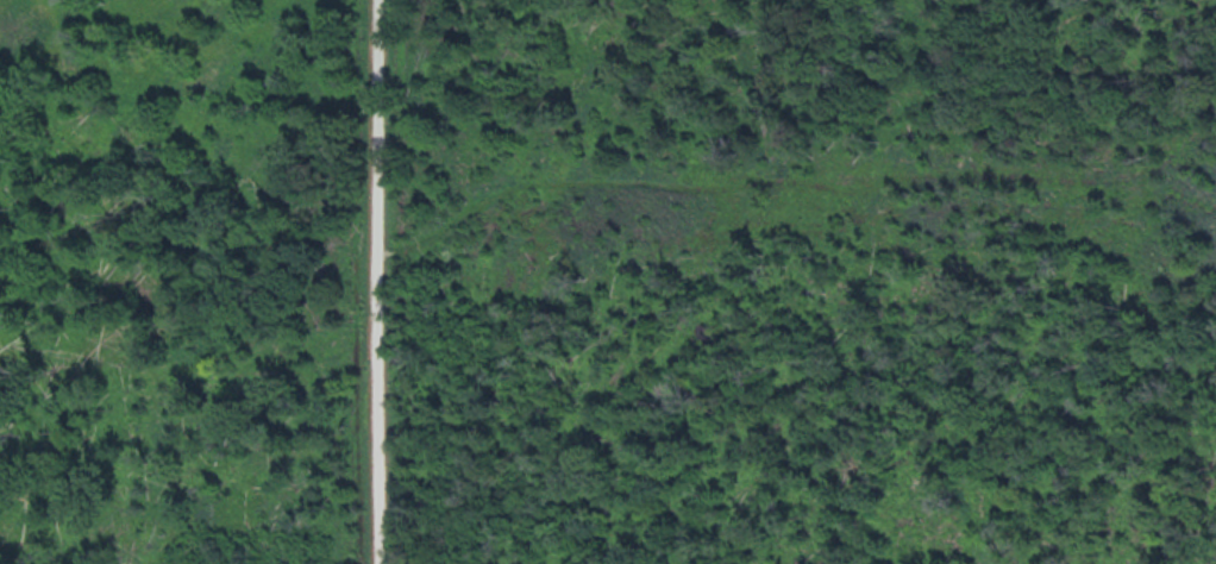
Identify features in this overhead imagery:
road: (371, 281)

